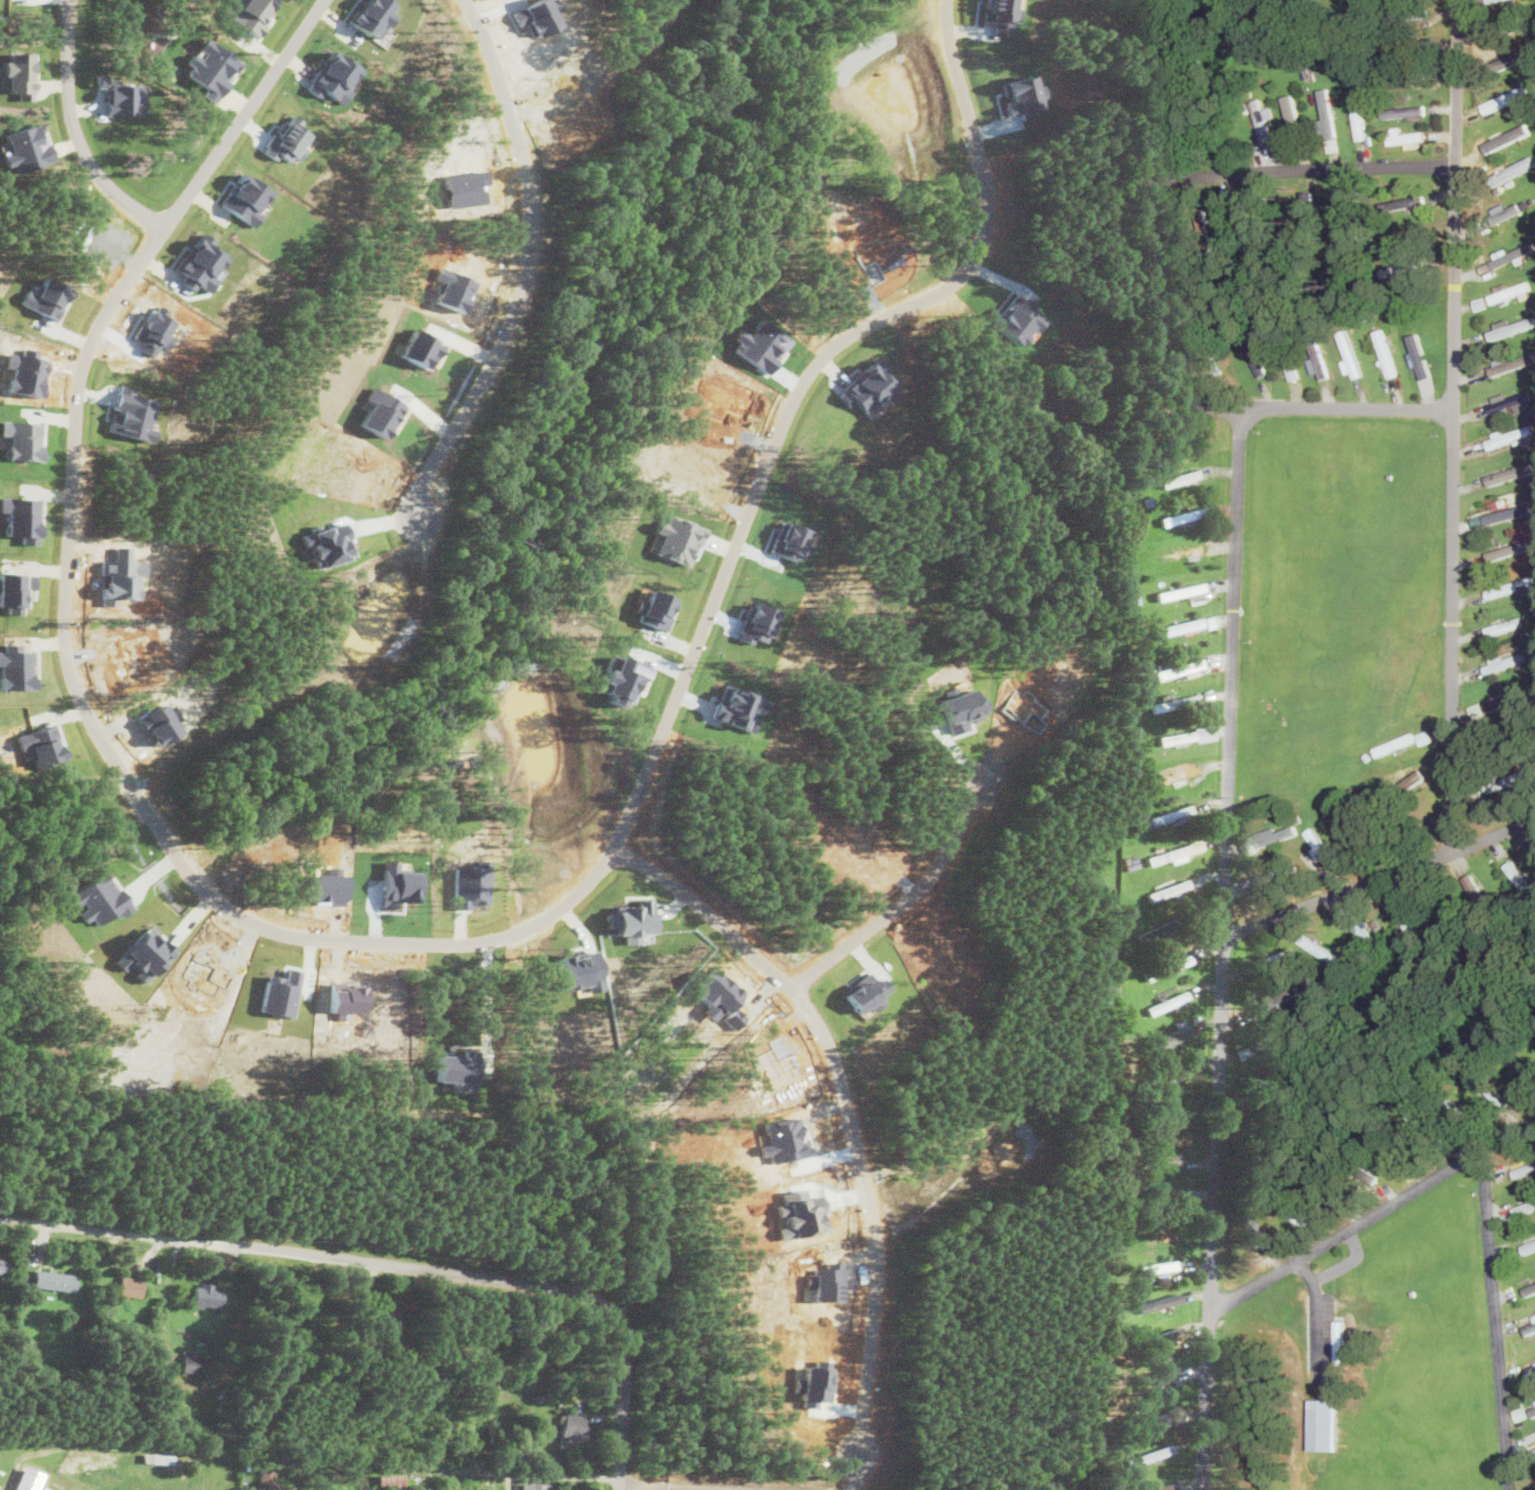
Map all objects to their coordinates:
building: (1489, 0)
building: (250, 12)
building: (370, 16)
building: (1514, 58)
building: (210, 67)
building: (17, 73)
building: (333, 75)
building: (119, 94)
building: (1506, 98)
building: (1405, 111)
building: (1292, 112)
building: (1359, 117)
building: (1327, 121)
road: (75, 129)
road: (225, 136)
building: (1406, 137)
building: (1506, 137)
building: (26, 147)
road: (1319, 168)
building: (1515, 169)
building: (244, 198)
building: (1505, 211)
building: (1512, 254)
building: (199, 262)
road: (527, 267)
building: (1510, 291)
building: (1480, 302)
building: (1510, 326)
building: (1386, 352)
building: (1419, 357)
building: (1256, 358)
building: (1511, 363)
building: (1321, 368)
building: (1509, 401)
road: (1310, 409)
building: (130, 413)
road: (1457, 424)
building: (1509, 435)
building: (1511, 473)
building: (1182, 477)
building: (1509, 512)
building: (30, 513)
building: (1183, 516)
building: (1507, 550)
building: (1180, 552)
building: (1511, 587)
building: (14, 590)
building: (1180, 590)
building: (1211, 621)
building: (1182, 625)
building: (1504, 626)
building: (1505, 660)
building: (1178, 668)
building: (1174, 702)
building: (1189, 734)
building: (1175, 775)
building: (1412, 778)
building: (1171, 814)
building: (1274, 835)
building: (1320, 847)
building: (1168, 853)
road: (1381, 875)
building: (1168, 889)
road: (903, 899)
road: (566, 901)
building: (1157, 930)
road: (1225, 950)
building: (146, 952)
building: (1165, 966)
building: (278, 994)
building: (1163, 1001)
building: (1258, 1008)
building: (1164, 1037)
building: (1526, 1076)
road: (839, 1100)
building: (1163, 1159)
building: (1164, 1191)
road: (1373, 1216)
road: (3, 1219)
building: (1159, 1229)
building: (1528, 1246)
road: (1347, 1263)
building: (2, 1264)
building: (1156, 1266)
road: (411, 1267)
building: (53, 1279)
building: (130, 1285)
building: (1529, 1289)
building: (205, 1294)
building: (1159, 1301)
parking lot: (1328, 1312)
road: (1318, 1313)
road: (1495, 1323)
building: (1529, 1327)
building: (1165, 1336)
building: (1341, 1341)
building: (193, 1362)
building: (1154, 1375)
building: (1532, 1410)
building: (1153, 1420)
building: (1325, 1423)
building: (571, 1429)
building: (1148, 1455)
road: (517, 1471)
building: (265, 1477)
building: (389, 1479)
building: (534, 1486)
building: (1160, 1487)

